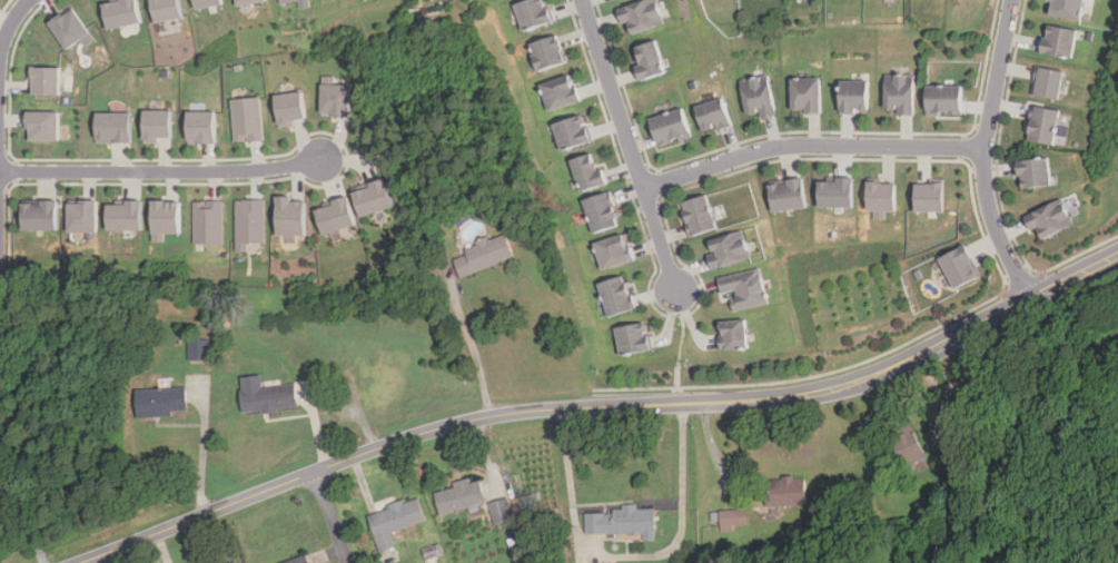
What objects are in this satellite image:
building: (246, 1)
building: (284, 1)
building: (207, 3)
building: (301, 3)
building: (1065, 9)
building: (166, 10)
building: (121, 12)
building: (534, 13)
building: (641, 14)
road: (11, 21)
building: (71, 29)
building: (1058, 41)
building: (547, 52)
building: (652, 58)
building: (44, 79)
building: (1043, 81)
building: (561, 92)
building: (900, 92)
building: (807, 95)
building: (759, 96)
building: (855, 96)
building: (336, 97)
building: (944, 100)
building: (290, 108)
building: (714, 116)
building: (247, 119)
building: (43, 125)
building: (157, 125)
building: (201, 126)
building: (1043, 126)
building: (115, 127)
building: (670, 127)
building: (572, 131)
road: (629, 144)
road: (810, 147)
road: (983, 152)
road: (160, 170)
building: (588, 172)
building: (1033, 174)
building: (841, 191)
building: (792, 192)
building: (887, 196)
building: (934, 196)
building: (372, 197)
building: (601, 211)
building: (702, 214)
building: (40, 215)
building: (82, 215)
building: (125, 215)
building: (289, 215)
building: (334, 215)
building: (166, 218)
building: (1049, 219)
building: (208, 221)
building: (249, 221)
building: (732, 248)
building: (614, 250)
building: (484, 255)
building: (964, 265)
building: (743, 288)
building: (616, 296)
building: (733, 335)
building: (633, 338)
building: (198, 348)
road: (474, 349)
road: (910, 360)
building: (266, 395)
building: (161, 402)
building: (907, 445)
road: (202, 446)
road: (375, 450)
building: (788, 492)
building: (459, 495)
building: (502, 512)
building: (6, 514)
road: (332, 517)
building: (732, 518)
building: (394, 521)
building: (623, 522)
road: (630, 556)
building: (299, 560)

